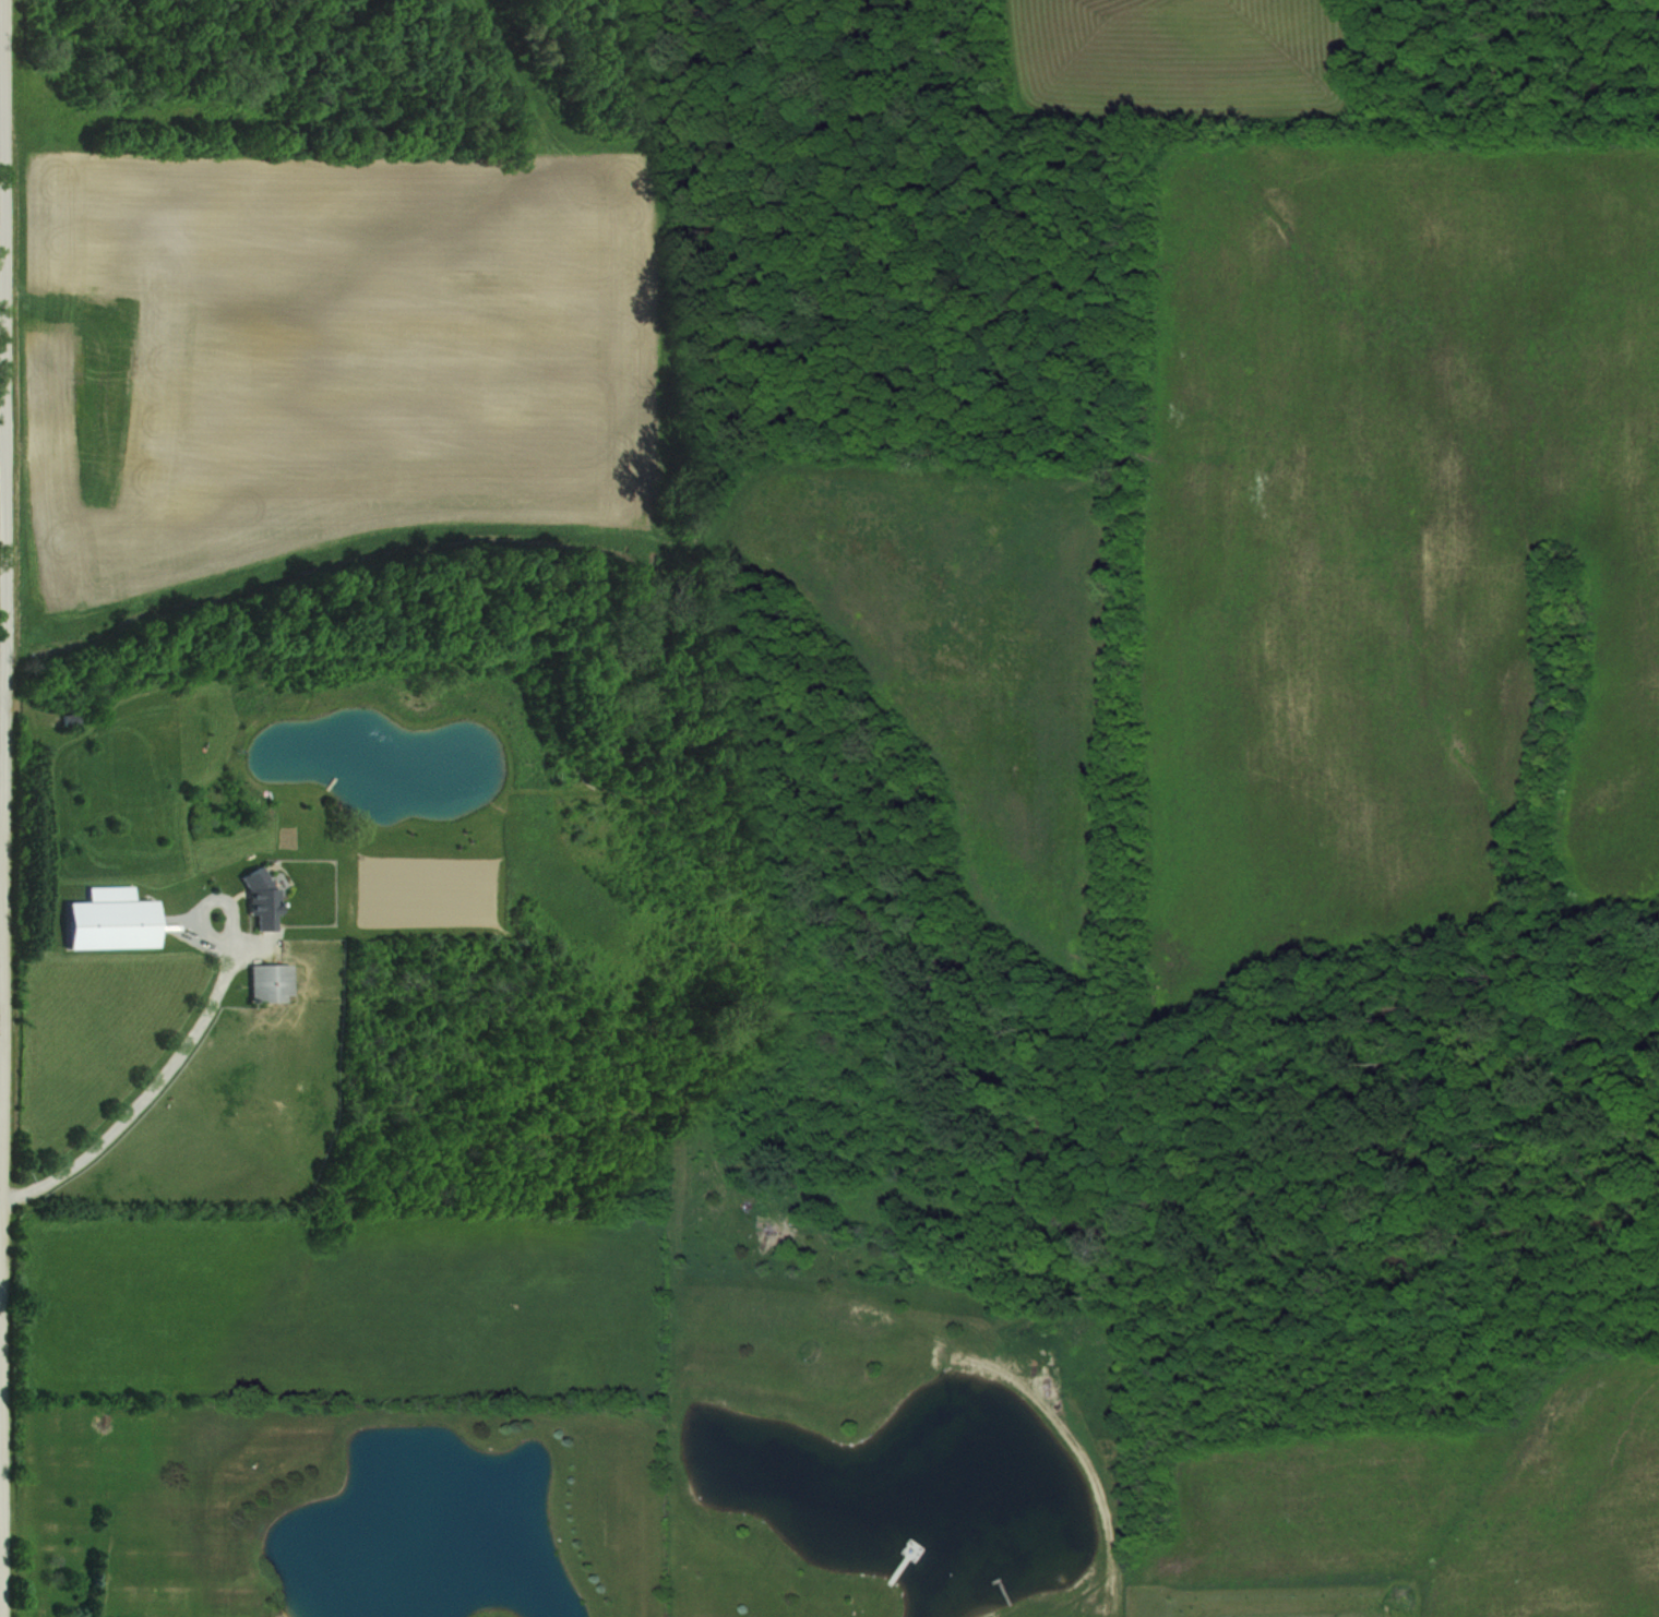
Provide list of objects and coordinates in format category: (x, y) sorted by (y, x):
building: (64, 719)
road: (2, 807)
building: (256, 897)
building: (265, 981)
road: (1, 997)
road: (141, 1097)

